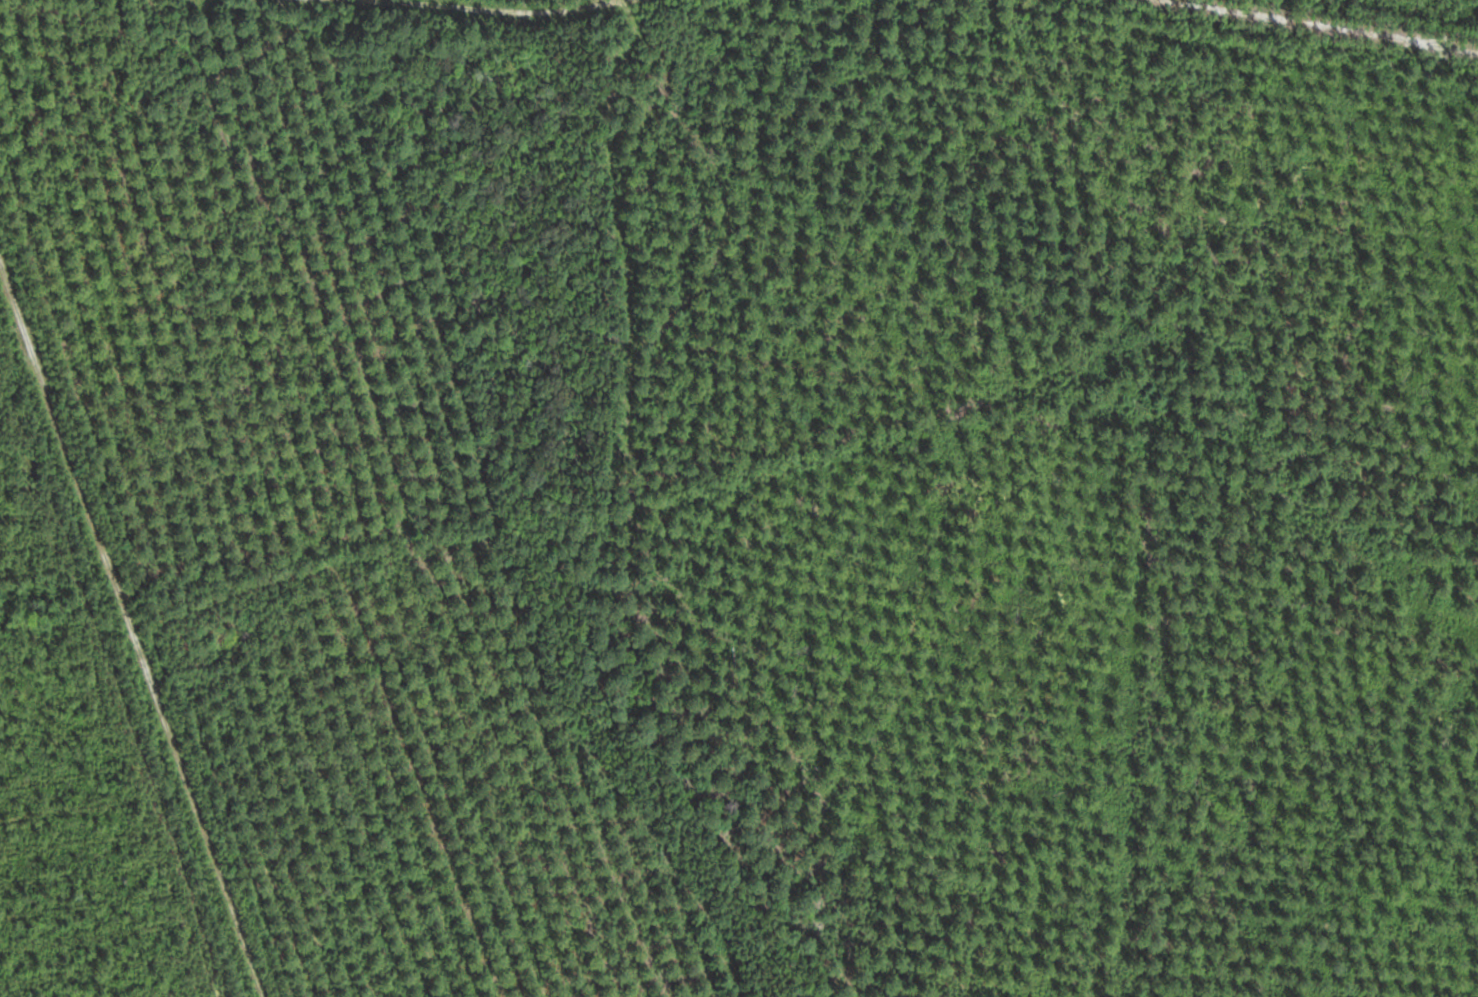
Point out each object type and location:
road: (487, 12)
road: (1375, 13)
road: (128, 605)

